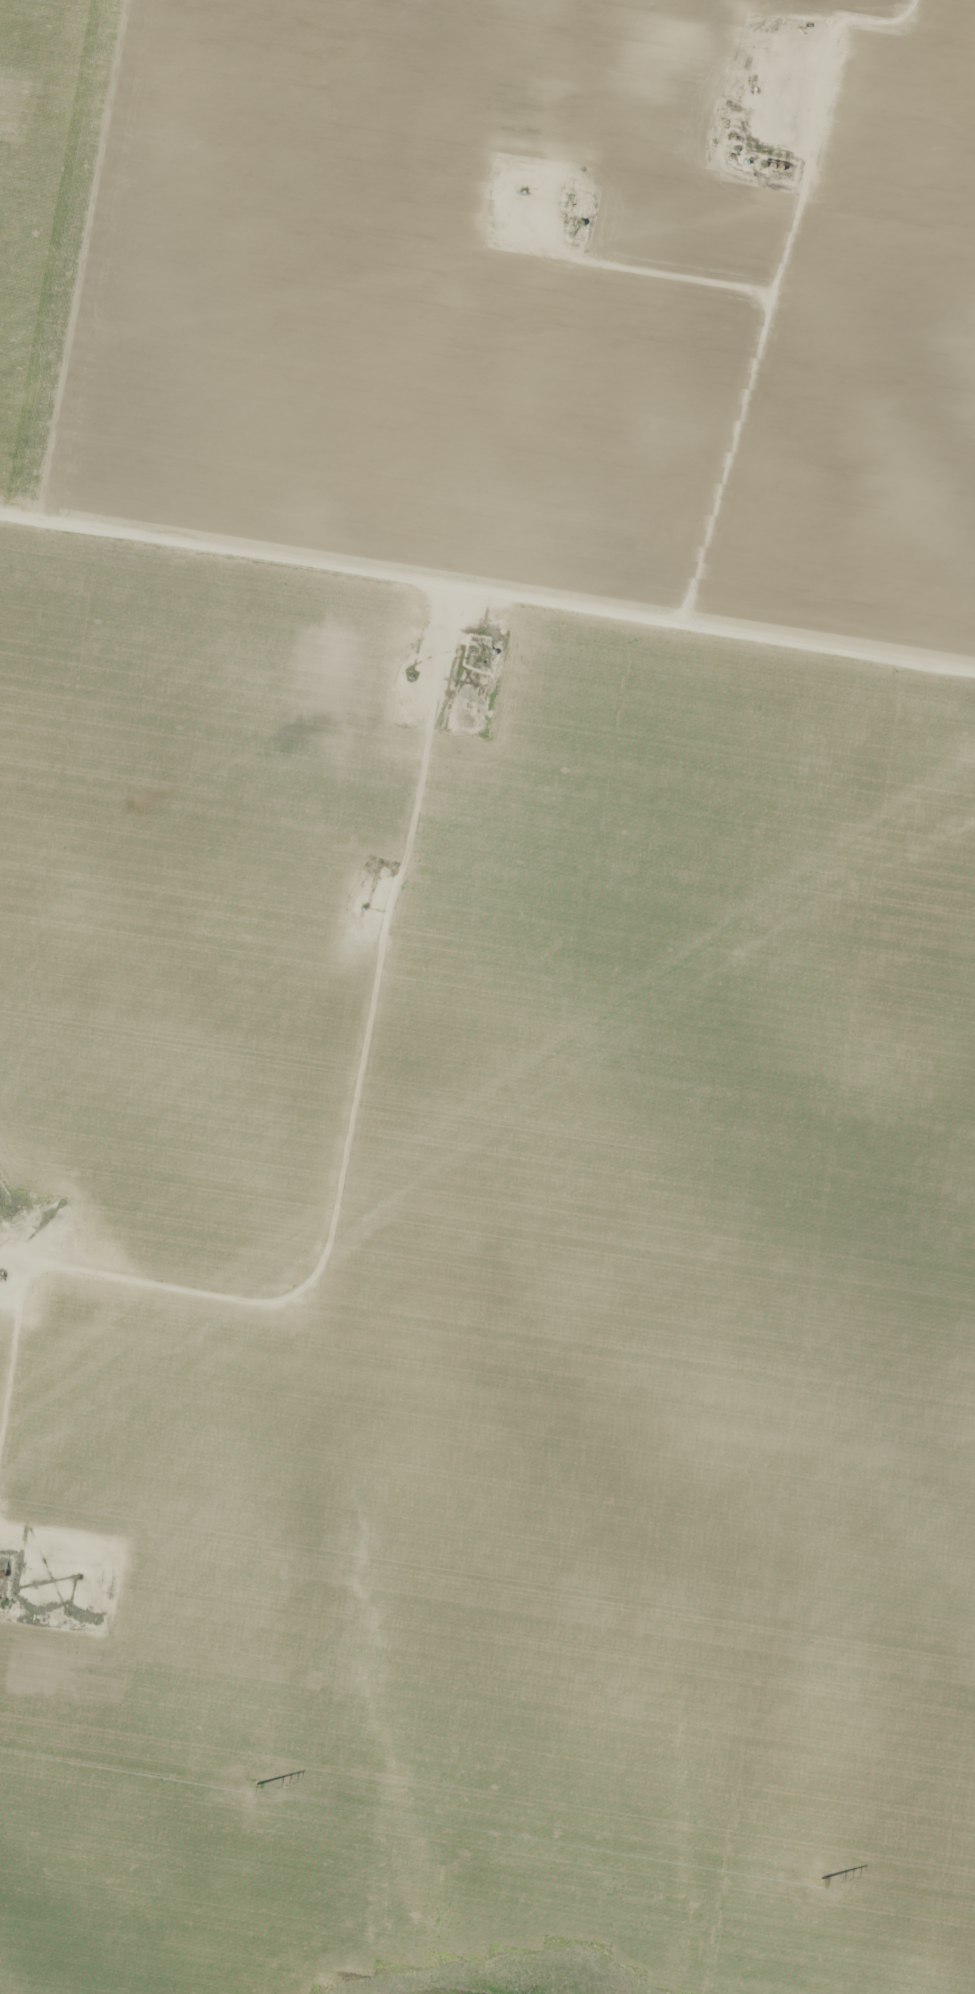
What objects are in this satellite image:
building: (188, 150)
road: (487, 572)
wastewater plant: (4, 1188)
power tower: (264, 1786)
power tower: (827, 1881)

